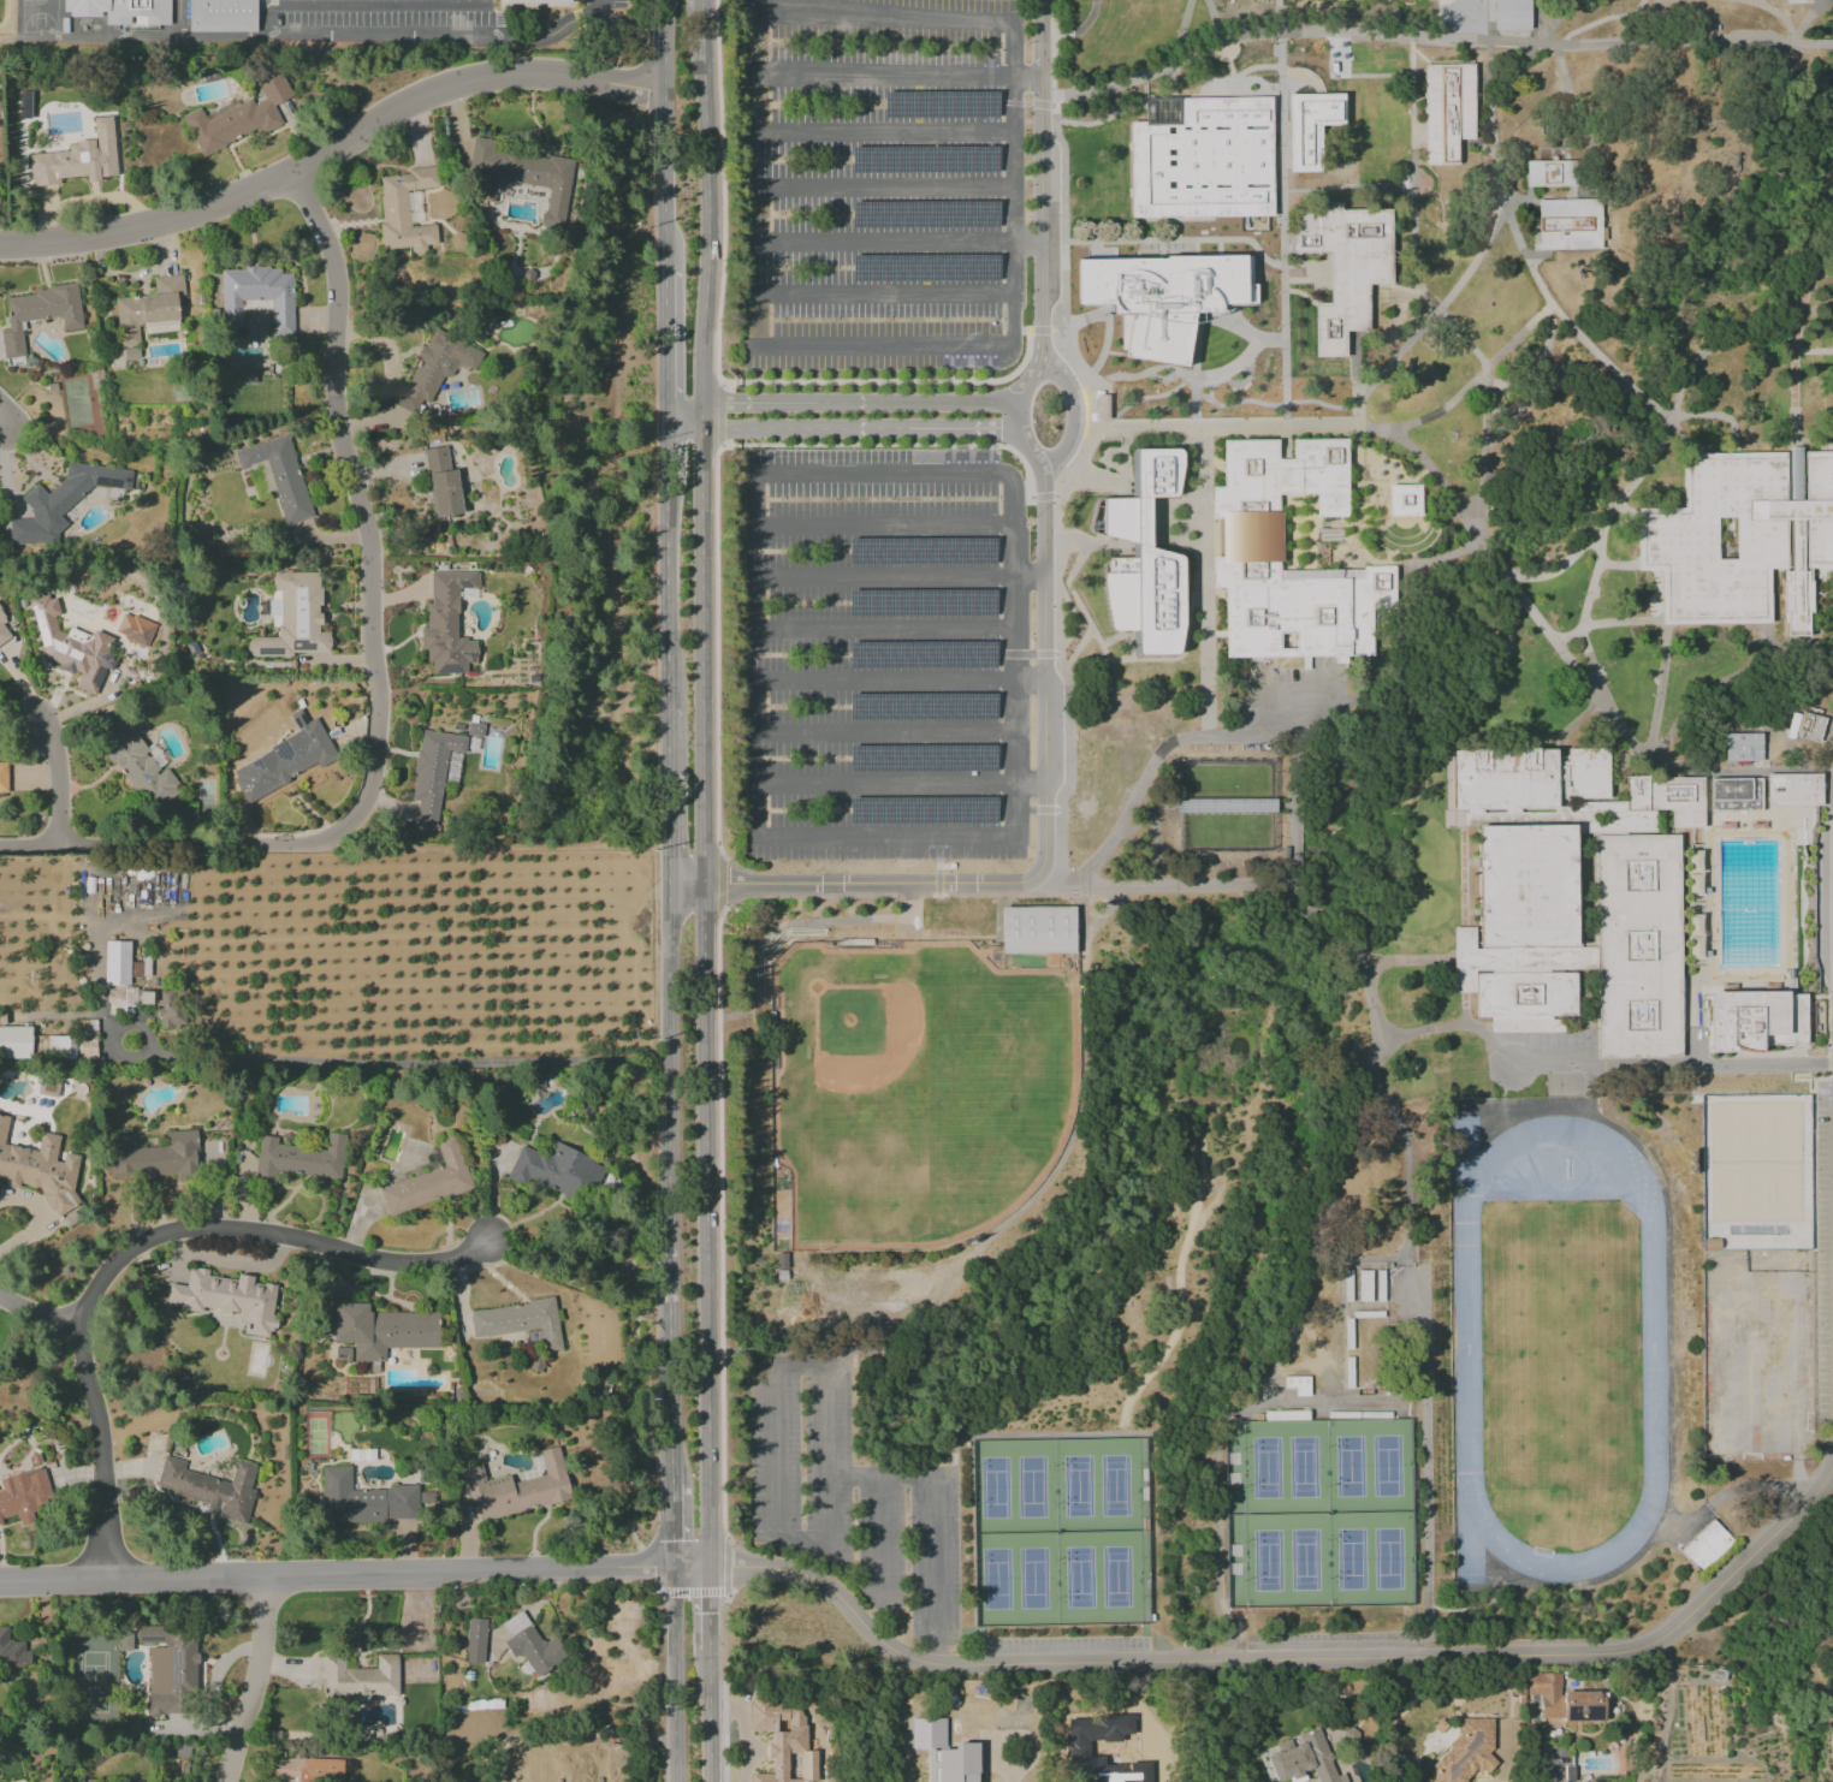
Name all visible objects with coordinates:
building: (535, 1)
road: (1665, 1)
parking lot: (618, 4)
building: (123, 11)
building: (1509, 14)
road: (1775, 14)
park: (40, 16)
building: (224, 16)
road: (1277, 17)
road: (827, 18)
parking lot: (381, 19)
road: (1215, 20)
road: (1537, 20)
road: (1554, 20)
road: (1602, 20)
road: (1081, 28)
road: (692, 36)
road: (701, 36)
road: (439, 37)
road: (132, 40)
road: (1430, 40)
road: (1346, 48)
road: (897, 75)
road: (1378, 77)
road: (1013, 78)
building: (24, 103)
road: (1027, 105)
building: (1447, 112)
building: (237, 118)
road: (1052, 118)
road: (1579, 120)
building: (1310, 129)
road: (663, 132)
road: (884, 132)
road: (331, 145)
building: (78, 158)
building: (1203, 161)
road: (1039, 170)
road: (1281, 174)
building: (1549, 174)
building: (523, 177)
road: (1412, 178)
building: (404, 210)
building: (1567, 225)
road: (759, 230)
road: (707, 238)
road: (1013, 240)
road: (1283, 255)
street lamp: (1530, 267)
building: (1345, 268)
road: (1534, 278)
road: (1396, 289)
road: (1455, 289)
road: (1299, 295)
building: (257, 296)
building: (147, 308)
building: (37, 314)
road: (1061, 314)
road: (757, 322)
road: (1737, 323)
road: (1042, 331)
road: (663, 334)
street lamp: (1470, 340)
road: (1798, 340)
building: (1236, 341)
building: (1144, 343)
road: (1591, 349)
road: (1814, 352)
road: (1285, 355)
street lamp: (1506, 360)
road: (717, 363)
road: (1388, 366)
building: (433, 370)
road: (386, 373)
building: (247, 376)
road: (1216, 384)
road: (1331, 384)
road: (1139, 385)
road: (1511, 386)
road: (1543, 387)
road: (1208, 397)
road: (1235, 402)
road: (1316, 402)
road: (1648, 402)
road: (683, 404)
road: (858, 404)
road: (1014, 404)
road: (1075, 405)
road: (1140, 405)
road: (1091, 408)
street lamp: (1436, 409)
road: (1667, 416)
road: (665, 417)
road: (701, 417)
road: (1718, 417)
road: (1511, 420)
road: (1, 427)
road: (1316, 428)
road: (683, 430)
road: (803, 430)
road: (960, 430)
street lamp: (1389, 441)
road: (666, 451)
road: (1482, 452)
road: (613, 457)
street lamp: (1489, 458)
street lamp: (1416, 462)
building: (279, 475)
building: (265, 476)
building: (441, 482)
road: (716, 488)
road: (1042, 497)
building: (1404, 500)
building: (61, 501)
road: (755, 501)
road: (1603, 519)
building: (1742, 537)
building: (1250, 539)
building: (1141, 558)
road: (1446, 558)
road: (1494, 560)
road: (1045, 574)
road: (1204, 582)
road: (755, 588)
road: (666, 589)
road: (1591, 592)
building: (292, 617)
building: (446, 624)
building: (135, 629)
building: (2, 630)
road: (1792, 643)
building: (71, 647)
road: (1823, 652)
parking lot: (885, 655)
road: (1013, 657)
road: (374, 670)
road: (1574, 671)
road: (757, 691)
building: (1804, 726)
building: (474, 730)
road: (1165, 747)
building: (1742, 749)
building: (284, 759)
building: (137, 762)
building: (432, 773)
road: (1045, 773)
building: (2, 778)
road: (59, 779)
building: (1526, 779)
building: (1793, 791)
building: (1734, 796)
road: (755, 797)
road: (668, 798)
building: (1667, 798)
road: (508, 838)
road: (937, 866)
road: (937, 883)
road: (1052, 883)
road: (722, 884)
road: (1199, 884)
road: (860, 886)
road: (1463, 890)
road: (995, 895)
road: (909, 896)
road: (1108, 908)
road: (788, 923)
road: (1325, 925)
building: (1038, 932)
building: (1521, 932)
building: (1637, 948)
road: (1412, 961)
building: (118, 979)
road: (704, 999)
building: (167, 1009)
road: (1464, 1010)
building: (1756, 1023)
road: (1418, 1032)
building: (13, 1040)
building: (55, 1047)
road: (125, 1057)
road: (405, 1064)
road: (1671, 1065)
street lamp: (1546, 1074)
building: (48, 1086)
park: (914, 1089)
park: (1755, 1131)
park: (1784, 1131)
park: (1728, 1133)
road: (719, 1139)
building: (155, 1157)
building: (297, 1159)
road: (1058, 1160)
building: (40, 1170)
building: (556, 1170)
building: (428, 1182)
road: (669, 1187)
park: (1757, 1190)
park: (1785, 1190)
park: (1728, 1192)
road: (1407, 1193)
road: (31, 1219)
road: (142, 1242)
road: (581, 1247)
parking lot: (1822, 1251)
road: (1766, 1263)
road: (1180, 1266)
building: (227, 1299)
road: (37, 1315)
building: (518, 1321)
road: (1293, 1324)
building: (381, 1330)
track: (1653, 1349)
parking lot: (1756, 1349)
park: (1560, 1356)
road: (811, 1365)
road: (1424, 1422)
building: (536, 1463)
park: (1349, 1467)
park: (1387, 1467)
park: (1265, 1468)
park: (1303, 1468)
park: (1081, 1486)
park: (1119, 1486)
building: (210, 1487)
building: (516, 1487)
park: (1034, 1487)
park: (998, 1490)
road: (1728, 1492)
building: (24, 1496)
building: (362, 1499)
parking lot: (852, 1504)
road: (933, 1521)
road: (1787, 1521)
road: (674, 1527)
building: (1707, 1548)
road: (880, 1560)
park: (1349, 1560)
park: (1388, 1560)
park: (1268, 1561)
park: (1305, 1561)
road: (726, 1564)
road: (355, 1576)
park: (1120, 1578)
park: (1036, 1579)
park: (1082, 1579)
park: (998, 1580)
road: (695, 1593)
road: (710, 1603)
road: (1482, 1606)
building: (475, 1640)
building: (530, 1645)
building: (12, 1652)
road: (1222, 1659)
building: (168, 1667)
road: (676, 1674)
building: (358, 1679)
road: (256, 1682)
building: (1566, 1700)
road: (710, 1710)
building: (784, 1741)
building: (1465, 1752)
building: (1301, 1759)
building: (535, 1764)
building: (955, 1764)
building: (304, 1769)
road: (1541, 1780)

